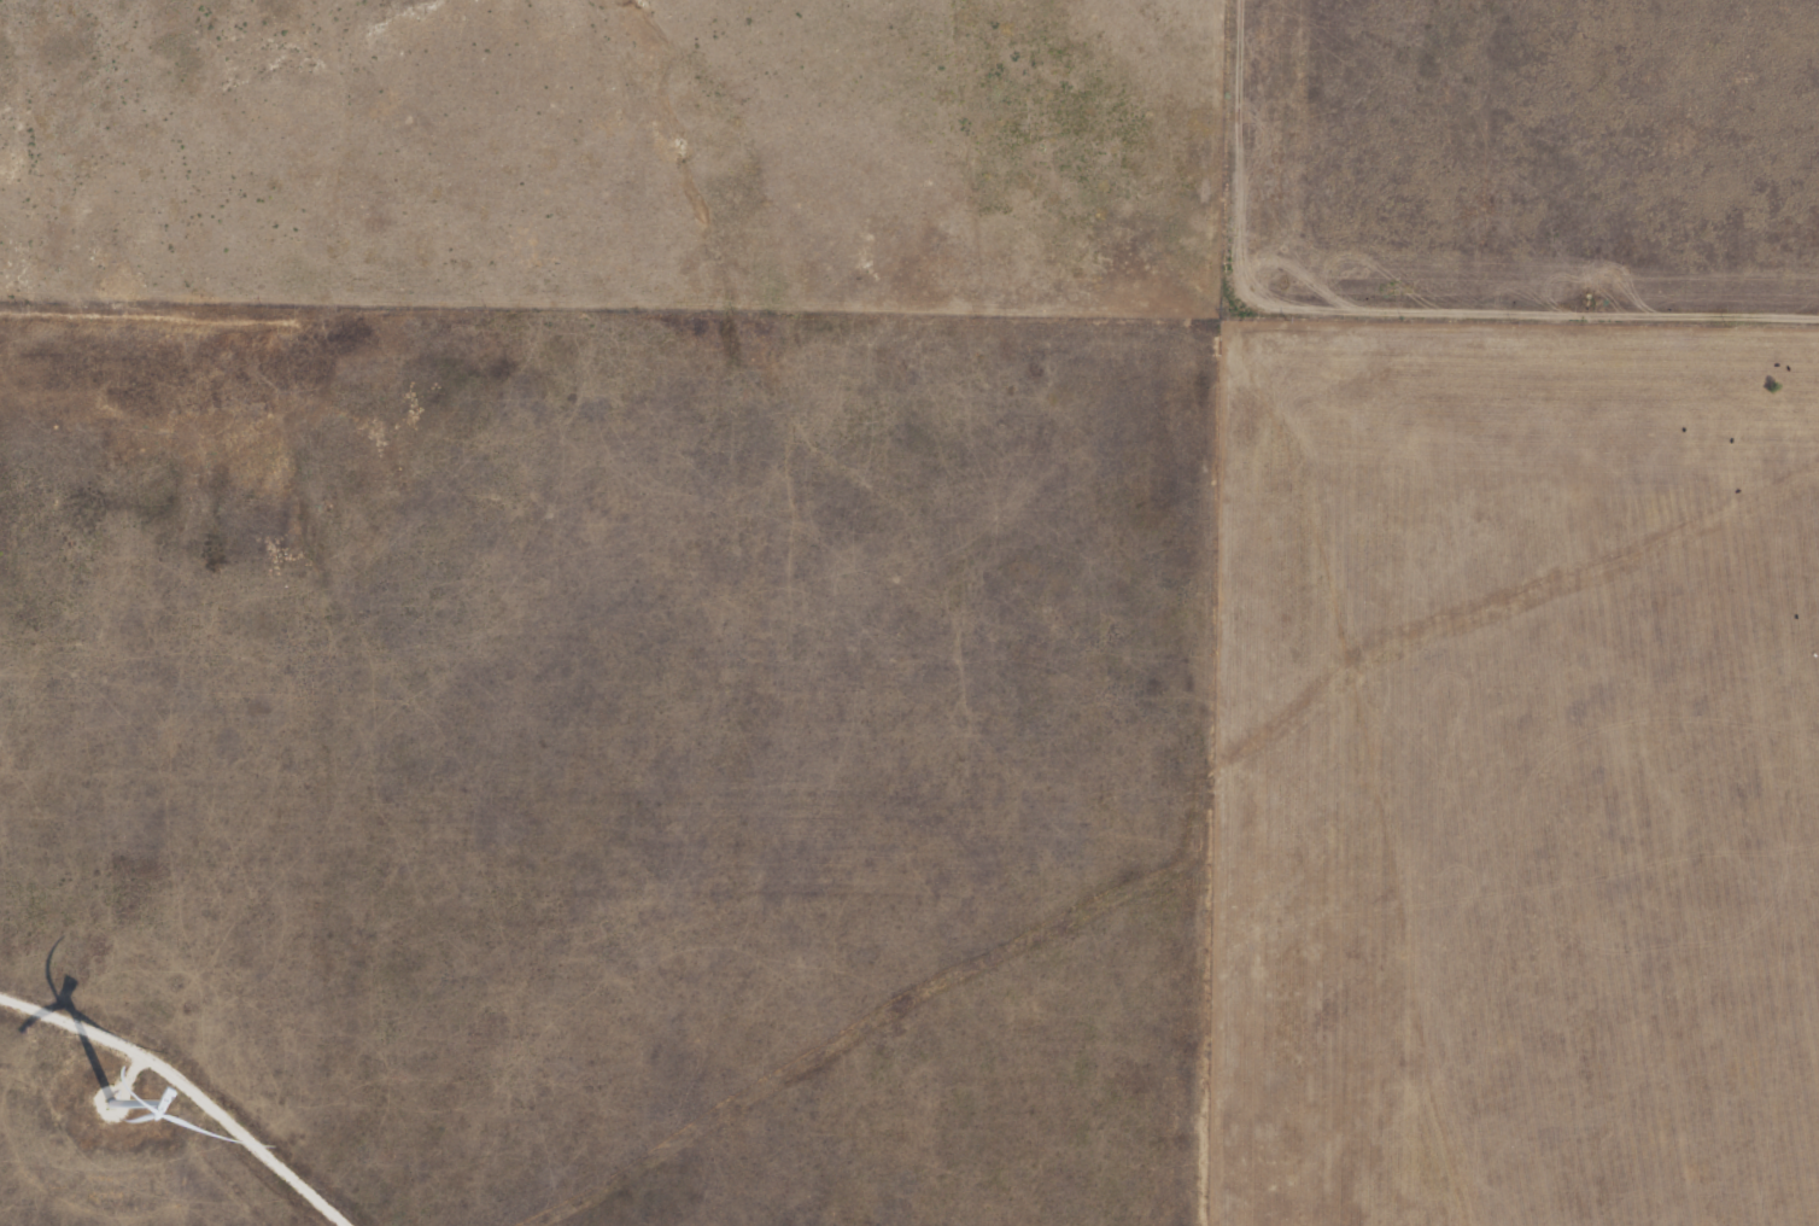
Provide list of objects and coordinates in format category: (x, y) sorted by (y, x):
wind turbine: (110, 1105)

